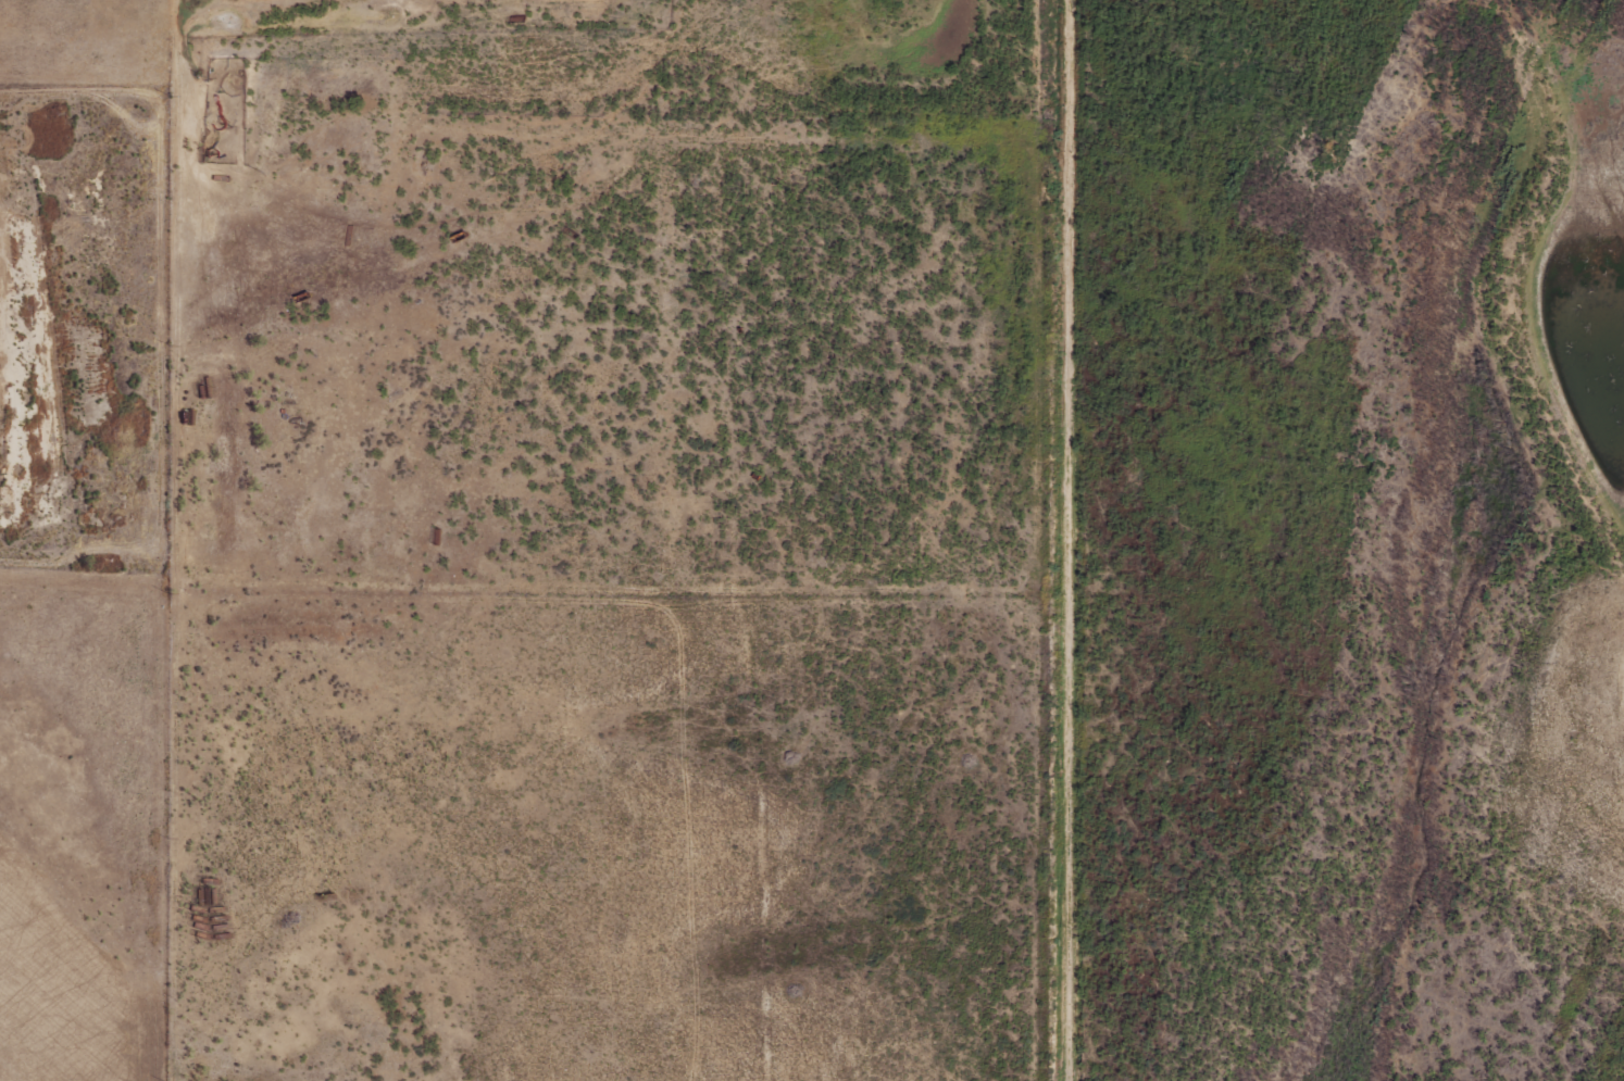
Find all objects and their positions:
road: (1052, 540)

